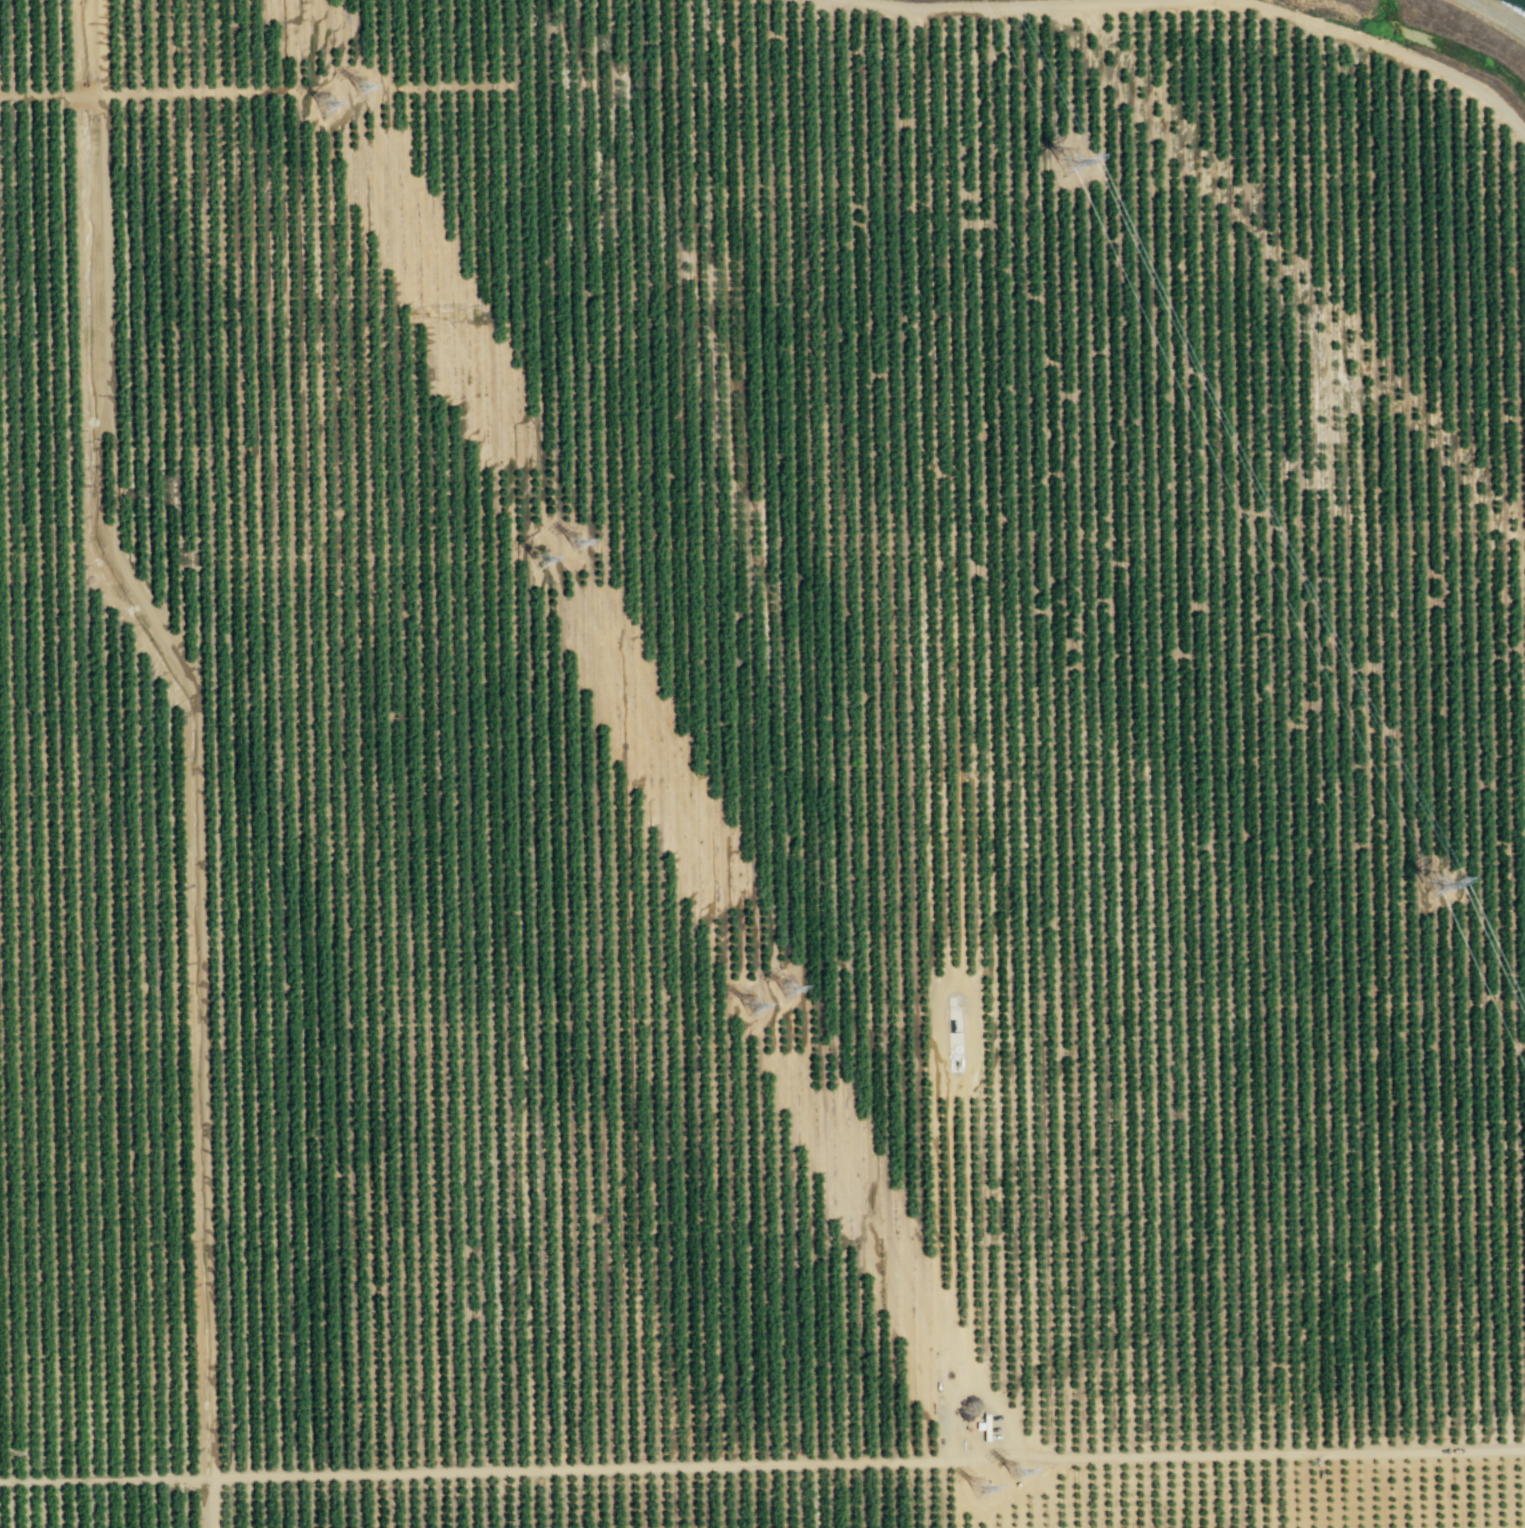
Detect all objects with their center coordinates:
power tower: (361, 87)
power tower: (325, 104)
power tower: (1070, 168)
power tower: (573, 544)
power tower: (540, 560)
road: (200, 725)
power tower: (1444, 895)
road: (967, 989)
power tower: (785, 992)
power tower: (751, 1006)
road: (940, 1375)
road: (1079, 1457)
road: (515, 1471)
power tower: (1013, 1473)
power tower: (978, 1490)

